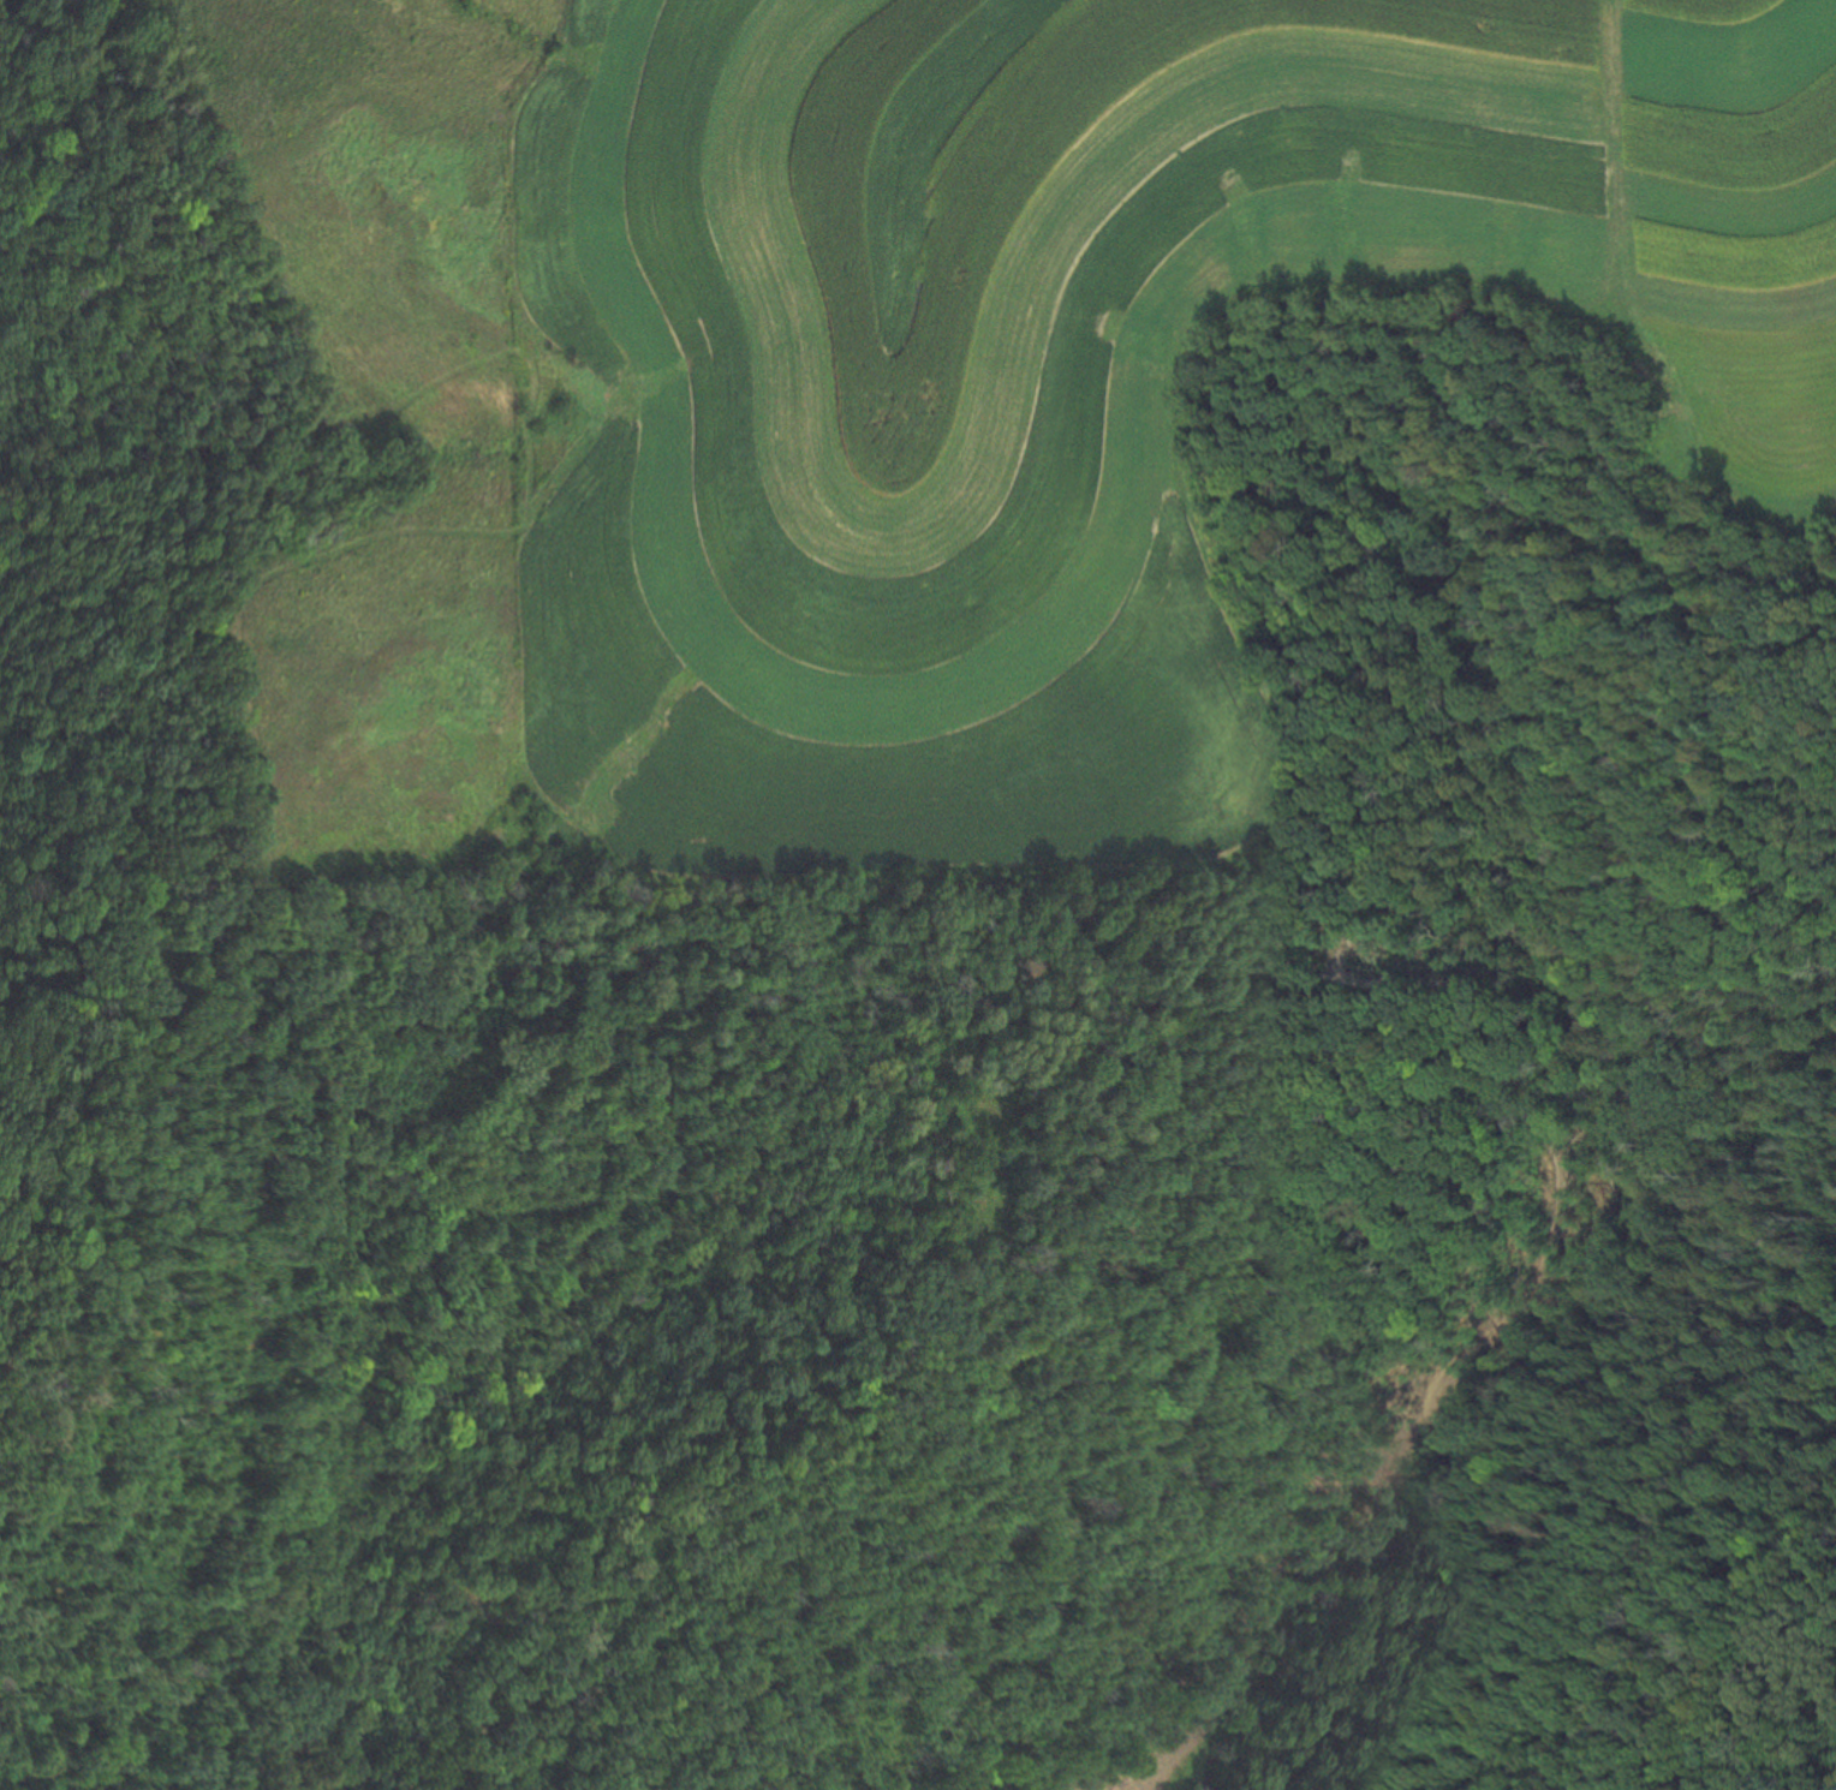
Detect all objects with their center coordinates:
road: (125, 1557)

